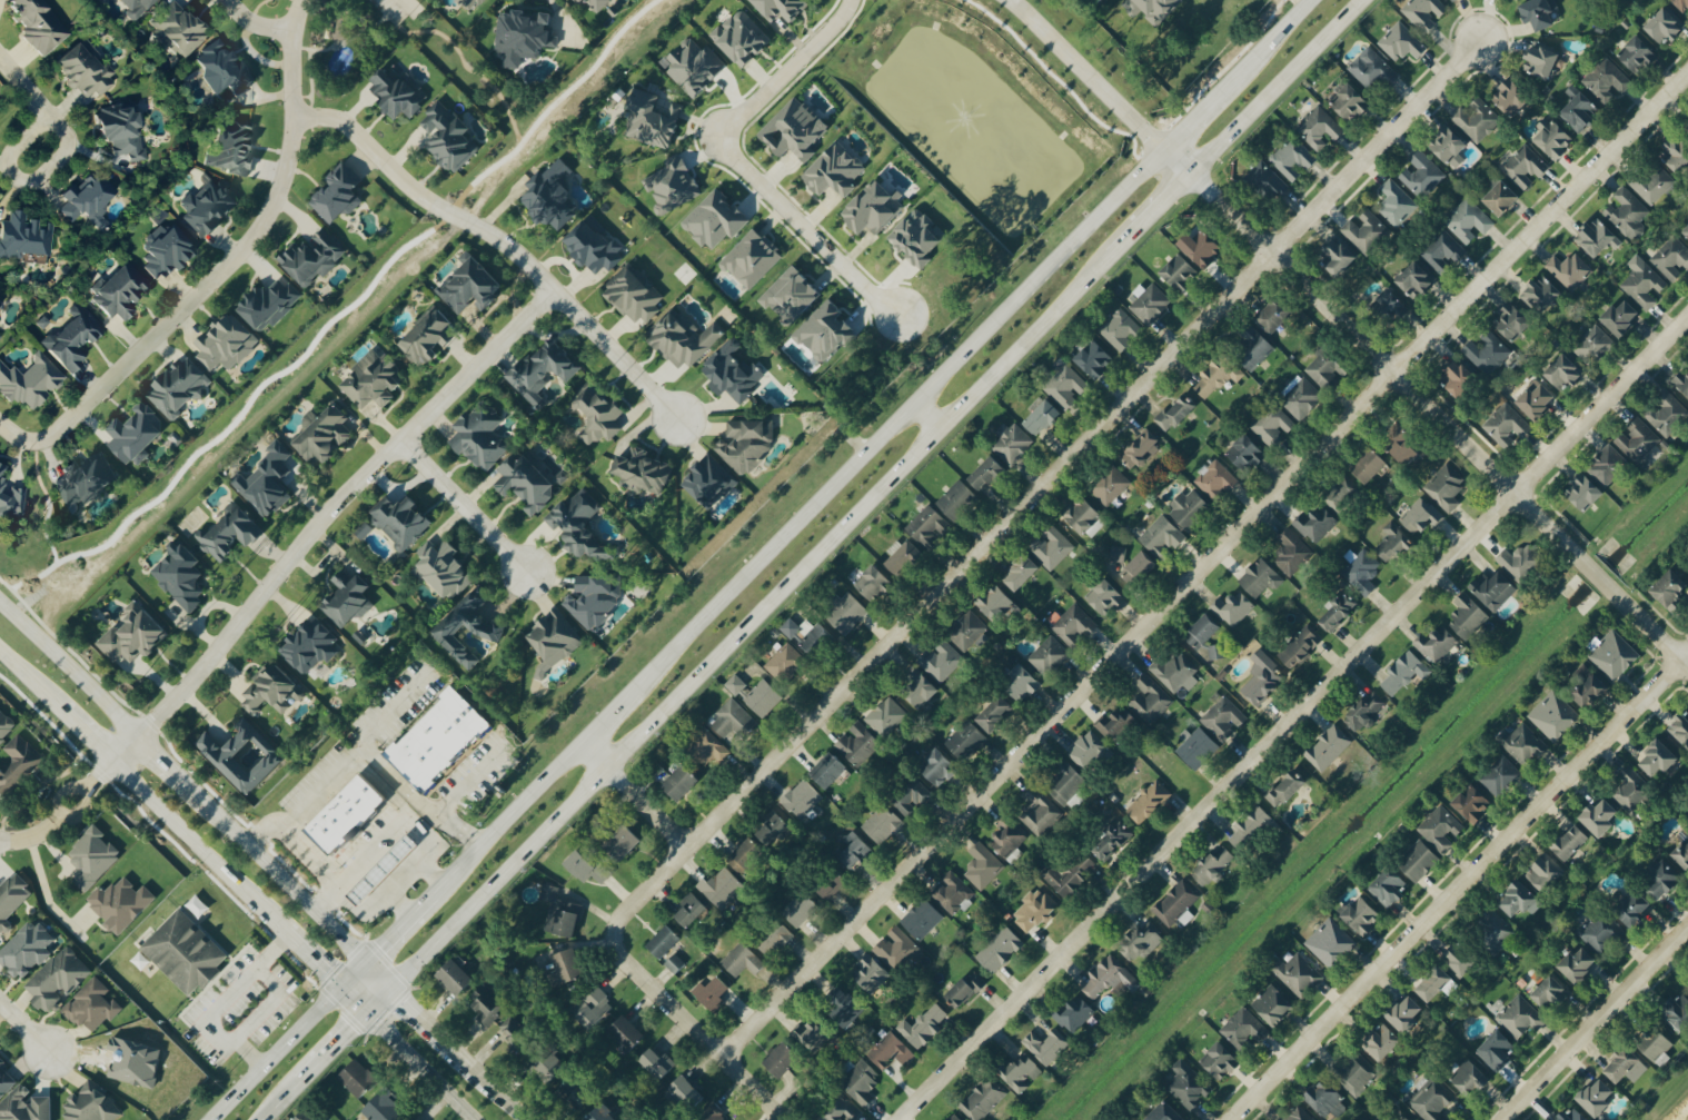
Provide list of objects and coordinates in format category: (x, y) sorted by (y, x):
building: (471, 3)
building: (595, 3)
building: (1681, 4)
road: (408, 6)
building: (136, 7)
building: (1152, 7)
building: (781, 8)
building: (1424, 12)
building: (1539, 12)
building: (39, 24)
road: (248, 24)
building: (1665, 24)
building: (177, 26)
building: (524, 34)
building: (742, 37)
building: (1402, 42)
park: (350, 43)
building: (1637, 54)
building: (1541, 61)
building: (693, 66)
building: (85, 68)
building: (1371, 68)
building: (224, 69)
road: (785, 72)
road: (1093, 79)
building: (1607, 79)
road: (22, 90)
building: (398, 92)
building: (1511, 97)
building: (1350, 102)
building: (1581, 112)
building: (652, 119)
building: (1477, 119)
building: (1319, 128)
building: (793, 129)
building: (121, 130)
building: (448, 137)
building: (1552, 138)
building: (1449, 146)
building: (231, 147)
building: (1677, 152)
building: (1293, 158)
building: (1526, 166)
building: (833, 169)
building: (1422, 174)
building: (1269, 179)
road: (23, 180)
building: (1652, 184)
building: (671, 186)
building: (338, 192)
building: (550, 196)
building: (1502, 197)
building: (88, 198)
building: (1396, 202)
building: (207, 207)
building: (871, 208)
building: (1628, 212)
building: (715, 219)
building: (1469, 220)
road: (805, 229)
building: (1686, 230)
building: (1367, 231)
building: (24, 235)
building: (917, 237)
building: (1597, 238)
road: (498, 242)
building: (593, 245)
building: (1201, 247)
building: (165, 249)
building: (1441, 250)
road: (230, 257)
building: (312, 257)
building: (1339, 257)
building: (749, 258)
building: (1672, 259)
building: (1569, 270)
building: (1180, 271)
building: (1416, 279)
building: (1644, 284)
building: (470, 286)
building: (119, 289)
building: (1541, 295)
building: (633, 296)
building: (790, 297)
building: (0, 301)
building: (1150, 301)
building: (268, 304)
building: (1391, 304)
building: (1273, 315)
building: (1621, 317)
building: (1512, 321)
building: (1120, 329)
building: (824, 330)
building: (0, 335)
building: (427, 336)
building: (71, 338)
building: (683, 339)
building: (226, 343)
building: (1592, 345)
building: (1253, 348)
building: (1488, 353)
building: (1095, 359)
road: (1379, 360)
building: (1327, 365)
building: (543, 370)
building: (733, 371)
building: (1563, 371)
building: (1219, 377)
building: (1459, 377)
building: (29, 380)
building: (373, 380)
building: (1682, 380)
building: (1065, 385)
building: (178, 387)
building: (1301, 397)
building: (1537, 399)
building: (1176, 413)
building: (1667, 414)
building: (598, 416)
road: (925, 416)
building: (1042, 416)
building: (1272, 424)
building: (1506, 425)
building: (135, 434)
building: (324, 435)
building: (480, 436)
road: (12, 437)
building: (1638, 440)
building: (1011, 442)
building: (746, 444)
building: (1400, 444)
building: (1141, 449)
building: (1245, 453)
building: (1370, 465)
building: (1608, 465)
building: (643, 470)
building: (987, 473)
building: (85, 479)
road: (836, 479)
building: (709, 480)
building: (1215, 480)
building: (265, 482)
building: (526, 483)
building: (1110, 486)
building: (1446, 487)
road: (1042, 488)
building: (1583, 492)
road: (875, 493)
building: (1340, 493)
building: (10, 497)
building: (956, 499)
road: (336, 505)
road: (465, 507)
building: (1189, 508)
building: (1082, 515)
building: (1421, 516)
building: (400, 521)
building: (1315, 524)
building: (927, 525)
building: (580, 526)
building: (364, 529)
building: (229, 532)
building: (1162, 537)
building: (1392, 543)
building: (1053, 548)
building: (1292, 553)
building: (1118, 554)
building: (904, 557)
building: (1520, 562)
building: (443, 568)
building: (1139, 568)
road: (1205, 571)
building: (1021, 572)
building: (1362, 572)
building: (180, 575)
road: (1597, 576)
building: (1261, 578)
building: (873, 583)
building: (1493, 589)
building: (1671, 589)
building: (1104, 596)
building: (347, 598)
building: (594, 598)
building: (996, 604)
building: (1233, 608)
building: (1338, 612)
building: (847, 613)
building: (1468, 617)
building: (1074, 626)
building: (489, 627)
road: (1649, 628)
building: (967, 632)
building: (131, 635)
building: (807, 635)
building: (1205, 636)
building: (554, 640)
building: (1437, 644)
building: (310, 645)
building: (1300, 647)
building: (1615, 655)
building: (1049, 656)
building: (941, 661)
building: (787, 664)
road: (69, 668)
building: (1174, 671)
building: (1406, 672)
road: (29, 678)
building: (736, 684)
building: (1021, 684)
building: (1263, 685)
building: (921, 690)
building: (271, 691)
building: (1591, 691)
building: (763, 697)
building: (1150, 700)
building: (1364, 712)
building: (994, 713)
building: (1555, 715)
building: (1222, 716)
building: (886, 717)
road: (1294, 718)
building: (734, 721)
building: (6, 725)
building: (1120, 726)
building: (1680, 730)
road: (86, 735)
building: (438, 739)
building: (966, 741)
building: (1522, 743)
building: (858, 744)
building: (708, 746)
building: (1195, 747)
road: (125, 749)
building: (1329, 749)
building: (1088, 751)
building: (242, 756)
road: (358, 756)
building: (1659, 759)
road: (163, 761)
building: (18, 764)
building: (936, 766)
building: (830, 771)
building: (1500, 775)
road: (466, 782)
building: (682, 783)
building: (1065, 784)
road: (383, 789)
building: (1287, 789)
building: (1632, 791)
road: (634, 796)
building: (911, 796)
building: (802, 800)
road: (416, 802)
building: (1149, 802)
building: (1473, 803)
road: (61, 812)
building: (1039, 812)
building: (345, 815)
building: (1600, 817)
building: (882, 824)
building: (1251, 827)
building: (772, 829)
building: (1440, 829)
building: (1009, 839)
building: (1112, 840)
building: (624, 842)
building: (1571, 843)
road: (198, 848)
building: (854, 851)
building: (1682, 855)
building: (746, 856)
building: (92, 858)
building: (1419, 861)
building: (1213, 865)
building: (983, 866)
building: (587, 868)
building: (381, 870)
road: (431, 870)
road: (277, 874)
building: (1070, 874)
building: (1545, 874)
road: (401, 878)
building: (1662, 881)
building: (832, 884)
building: (723, 888)
building: (1389, 888)
road: (1460, 888)
road: (43, 890)
building: (952, 892)
building: (11, 899)
building: (1519, 900)
building: (120, 903)
road: (398, 904)
building: (1176, 905)
building: (801, 909)
building: (1632, 909)
building: (691, 910)
building: (1035, 910)
building: (560, 913)
building: (1361, 915)
building: (922, 919)
building: (1496, 930)
building: (1600, 932)
building: (774, 939)
building: (664, 942)
building: (1142, 942)
building: (1331, 943)
building: (896, 949)
building: (26, 950)
building: (1000, 950)
building: (185, 953)
road: (312, 960)
building: (743, 961)
traffic signals: (366, 962)
building: (1460, 962)
building: (675, 963)
building: (567, 965)
building: (1578, 965)
road: (353, 974)
road: (378, 974)
building: (871, 974)
building: (1298, 974)
building: (455, 978)
building: (58, 979)
building: (1110, 979)
building: (1434, 984)
traffic signals: (391, 987)
traffic signals: (340, 988)
building: (965, 990)
building: (712, 993)
building: (1550, 993)
road: (353, 1000)
road: (378, 1000)
road: (268, 1002)
road: (219, 1004)
building: (486, 1004)
building: (91, 1005)
building: (1273, 1005)
building: (593, 1008)
building: (845, 1008)
traffic signals: (366, 1013)
building: (1074, 1013)
building: (1406, 1013)
building: (1678, 1013)
road: (419, 1014)
building: (1520, 1018)
road: (1593, 1022)
building: (924, 1025)
road: (24, 1027)
building: (1243, 1030)
road: (691, 1032)
building: (513, 1033)
building: (626, 1033)
building: (812, 1034)
building: (1382, 1042)
building: (1656, 1044)
building: (1045, 1045)
building: (891, 1051)
building: (1497, 1051)
road: (275, 1053)
building: (783, 1060)
building: (1220, 1061)
building: (544, 1062)
building: (657, 1063)
road: (312, 1067)
road: (419, 1067)
building: (1627, 1067)
building: (1021, 1073)
building: (1357, 1076)
building: (357, 1077)
building: (1470, 1079)
building: (4, 1080)
road: (486, 1081)
building: (861, 1083)
building: (1189, 1086)
building: (683, 1090)
building: (574, 1092)
building: (1597, 1098)
building: (1432, 1099)
building: (982, 1100)
building: (1327, 1100)
building: (90, 1104)
building: (24, 1107)
building: (383, 1107)
building: (841, 1110)
building: (1165, 1112)
building: (602, 1113)
building: (714, 1113)
building: (306, 1114)
building: (1299, 1114)
building: (1573, 1114)
building: (955, 1118)
building: (413, 1119)
building: (1411, 1119)

